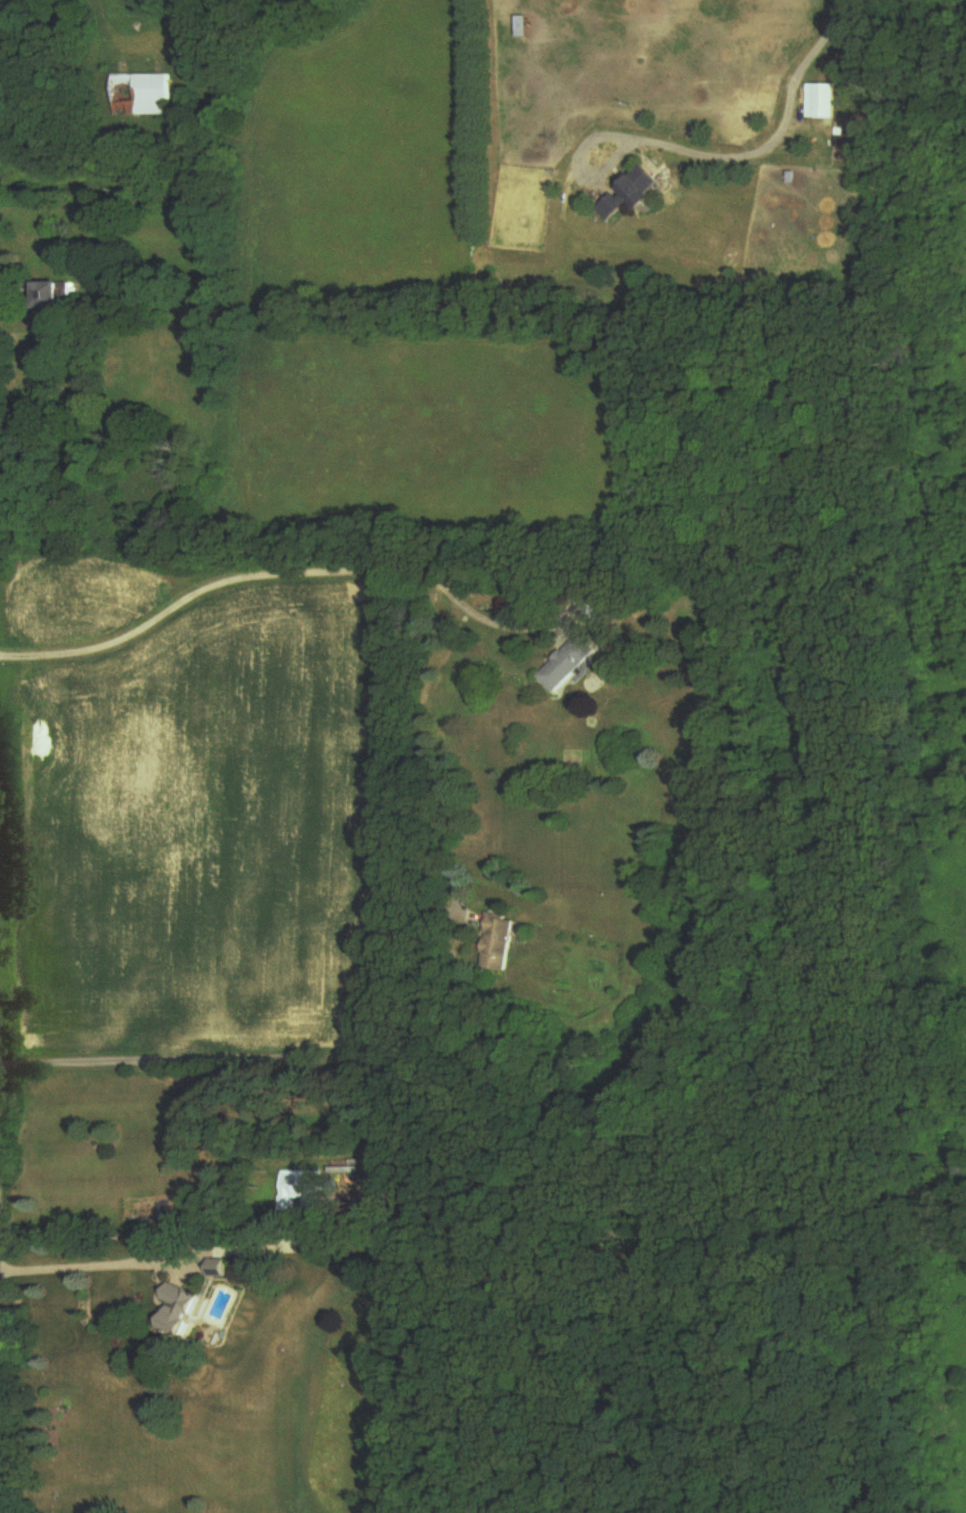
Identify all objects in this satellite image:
building: (143, 95)
building: (823, 102)
road: (773, 137)
building: (634, 195)
building: (55, 298)
building: (570, 664)
building: (499, 943)
building: (302, 1195)
road: (144, 1263)
building: (221, 1269)
building: (180, 1310)

